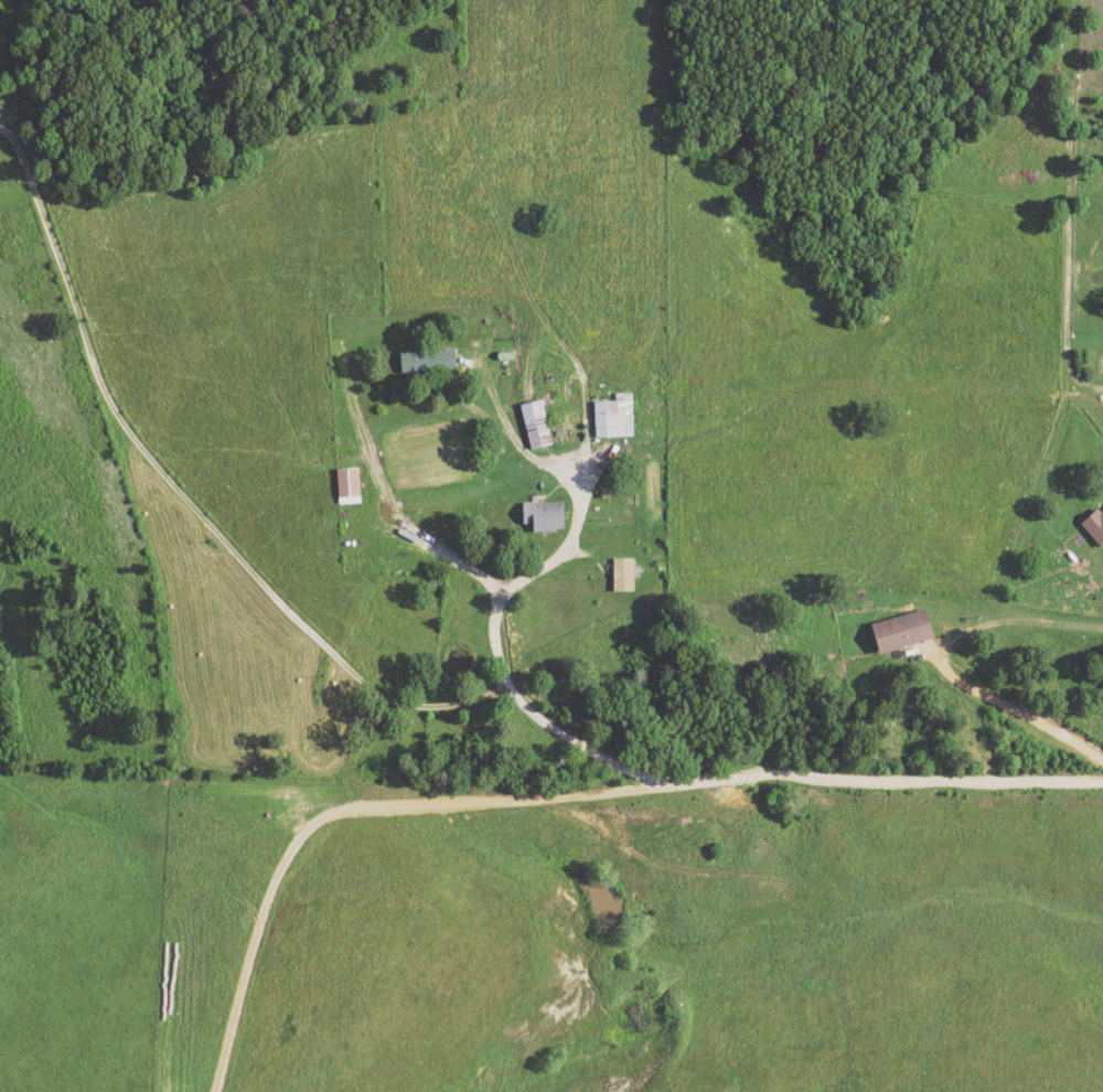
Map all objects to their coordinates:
building: (424, 362)
road: (463, 405)
building: (613, 417)
building: (534, 425)
building: (345, 486)
road: (182, 492)
building: (542, 516)
building: (1093, 527)
building: (621, 576)
building: (897, 633)
road: (944, 665)
road: (630, 775)
road: (335, 814)

